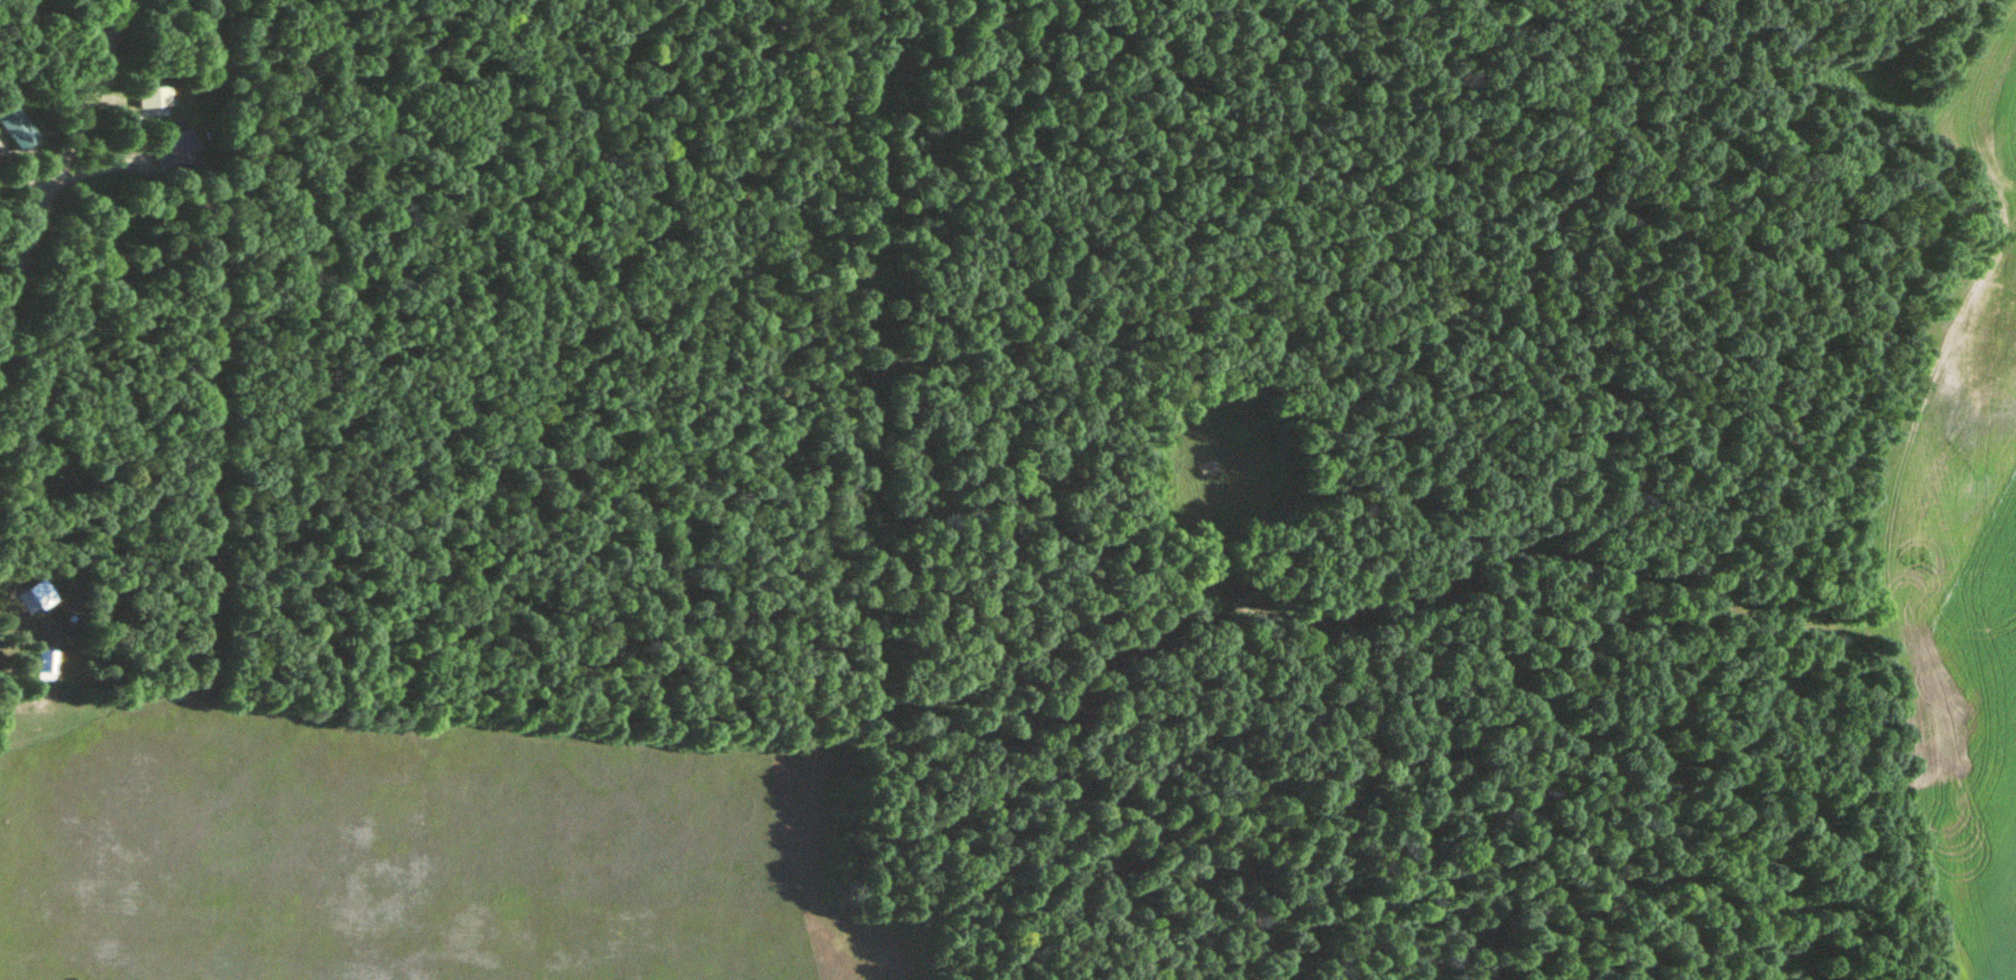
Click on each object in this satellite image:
road: (60, 13)
road: (530, 79)
building: (153, 98)
building: (15, 126)
building: (185, 145)
road: (59, 155)
road: (102, 163)
building: (32, 481)
building: (44, 665)

